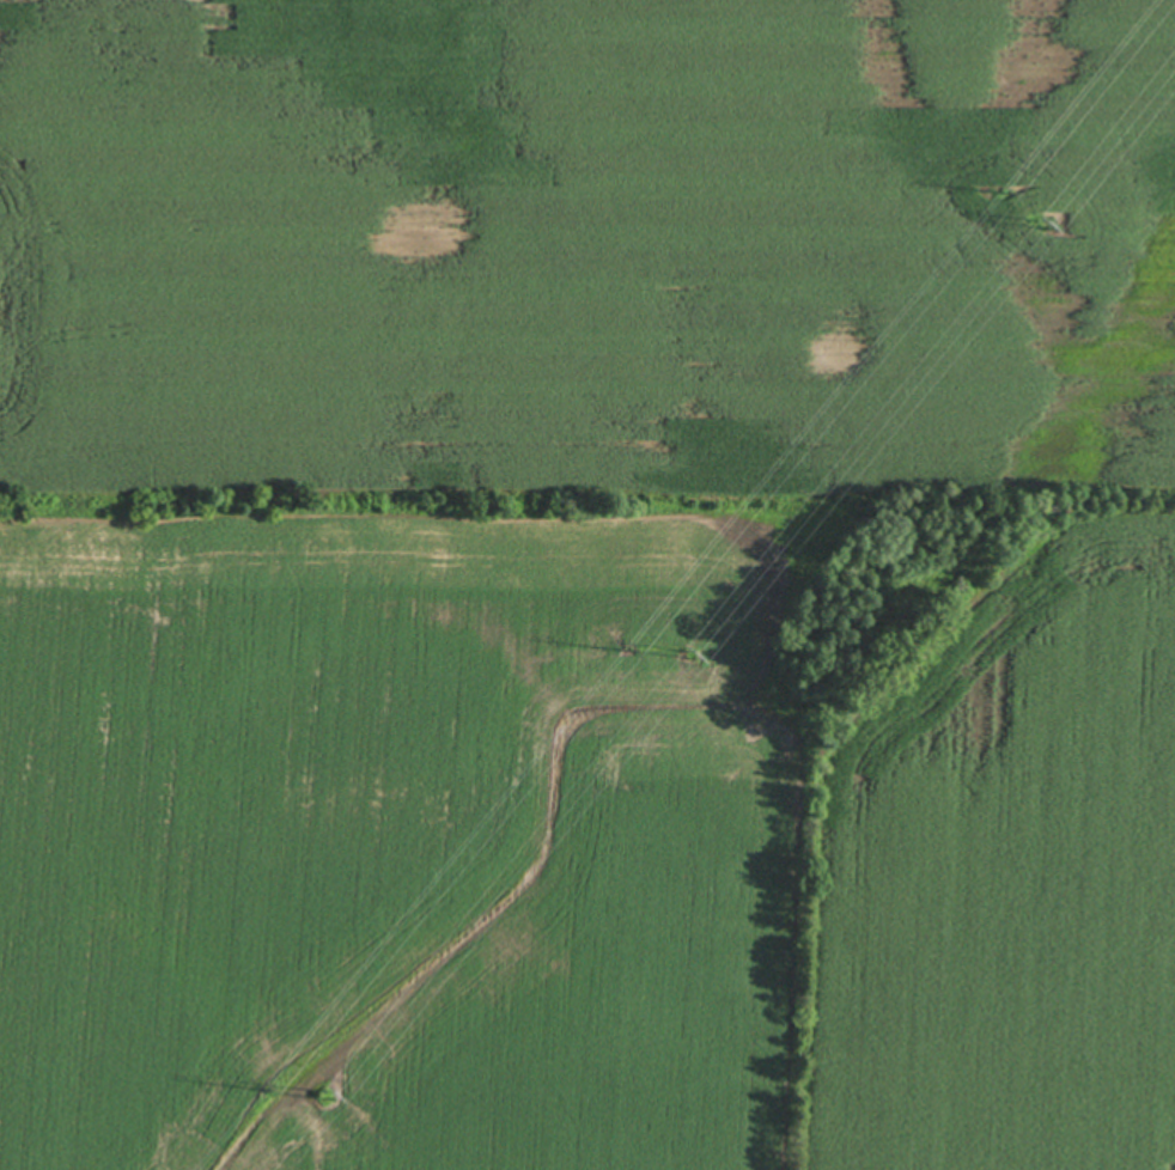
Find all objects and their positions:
power tower: (1006, 189)
power tower: (1046, 225)
power tower: (627, 651)
power tower: (693, 654)
power tower: (278, 1083)
power tower: (334, 1091)

